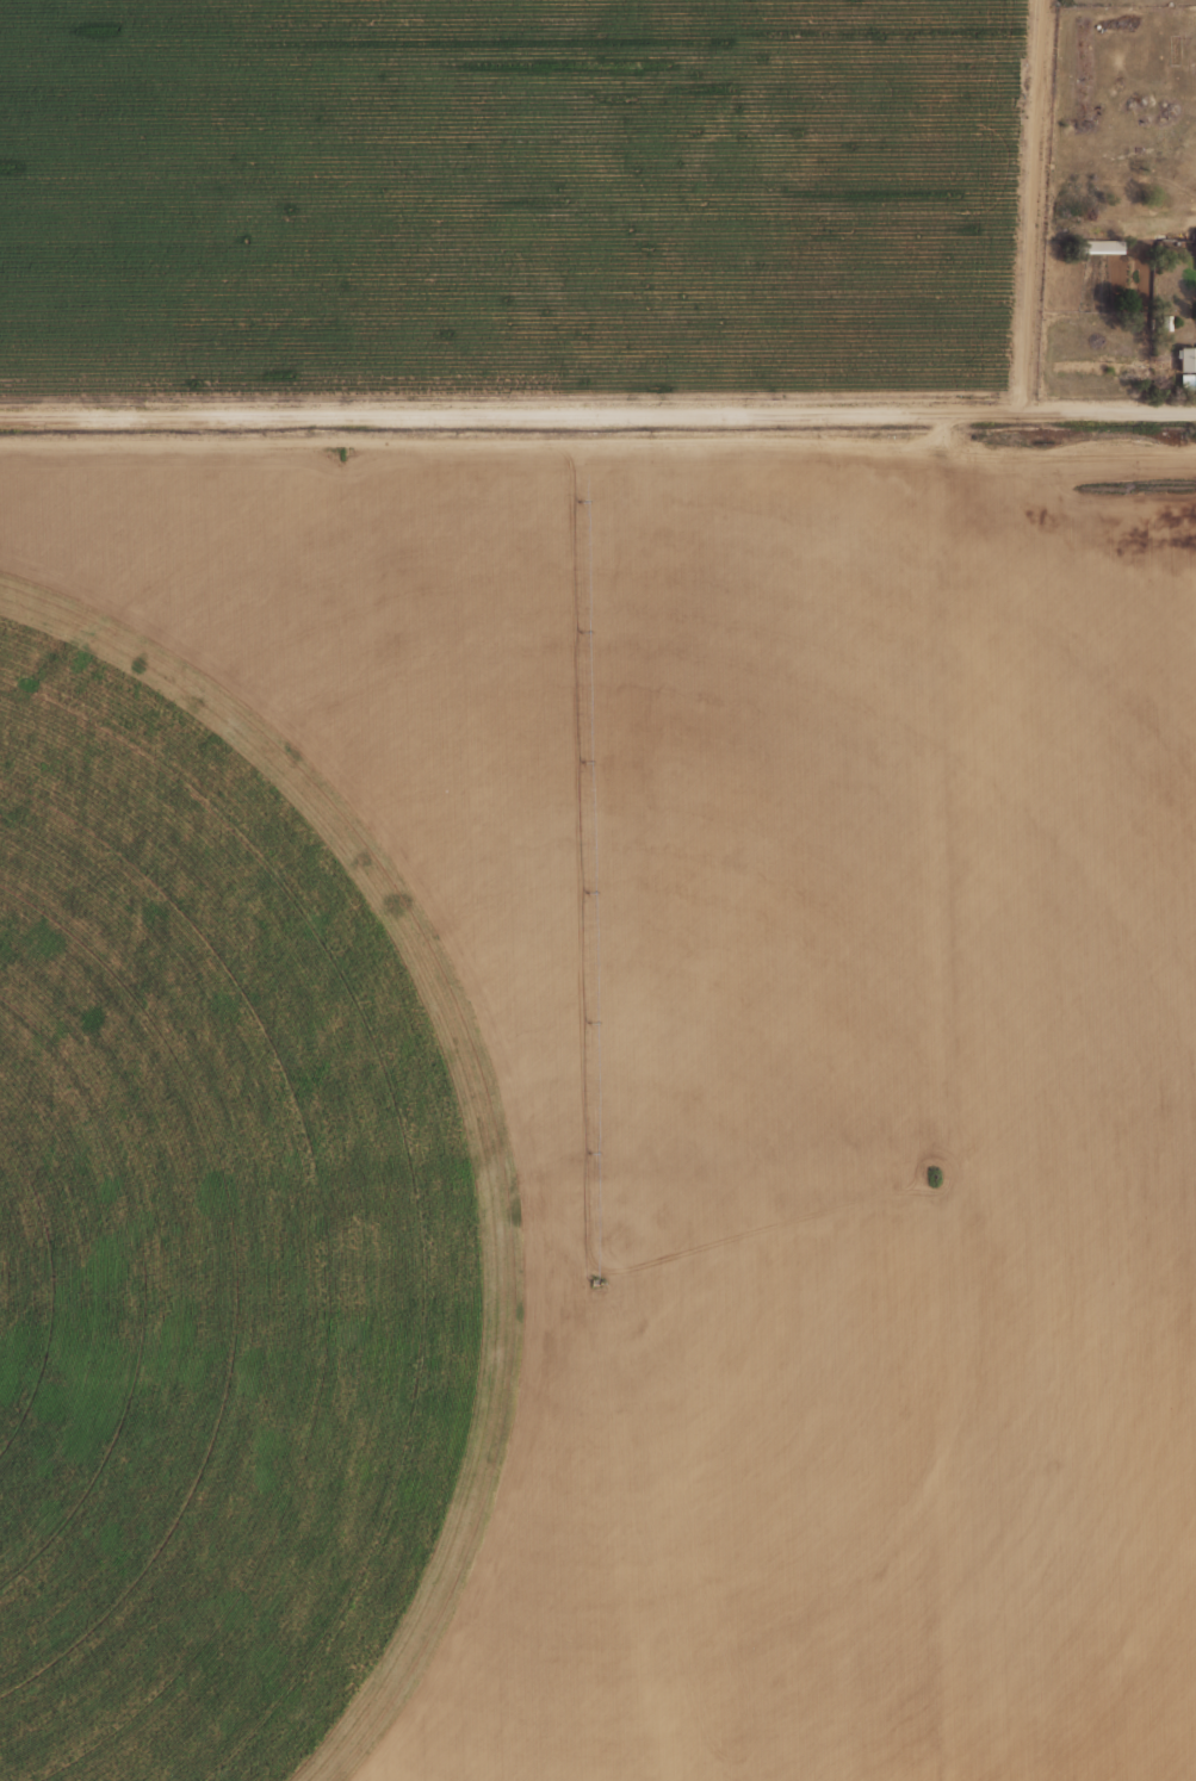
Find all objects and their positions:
road: (1027, 206)
building: (1194, 243)
building: (1096, 246)
building: (1164, 322)
building: (1185, 359)
building: (1184, 381)
road: (597, 415)
building: (557, 532)

